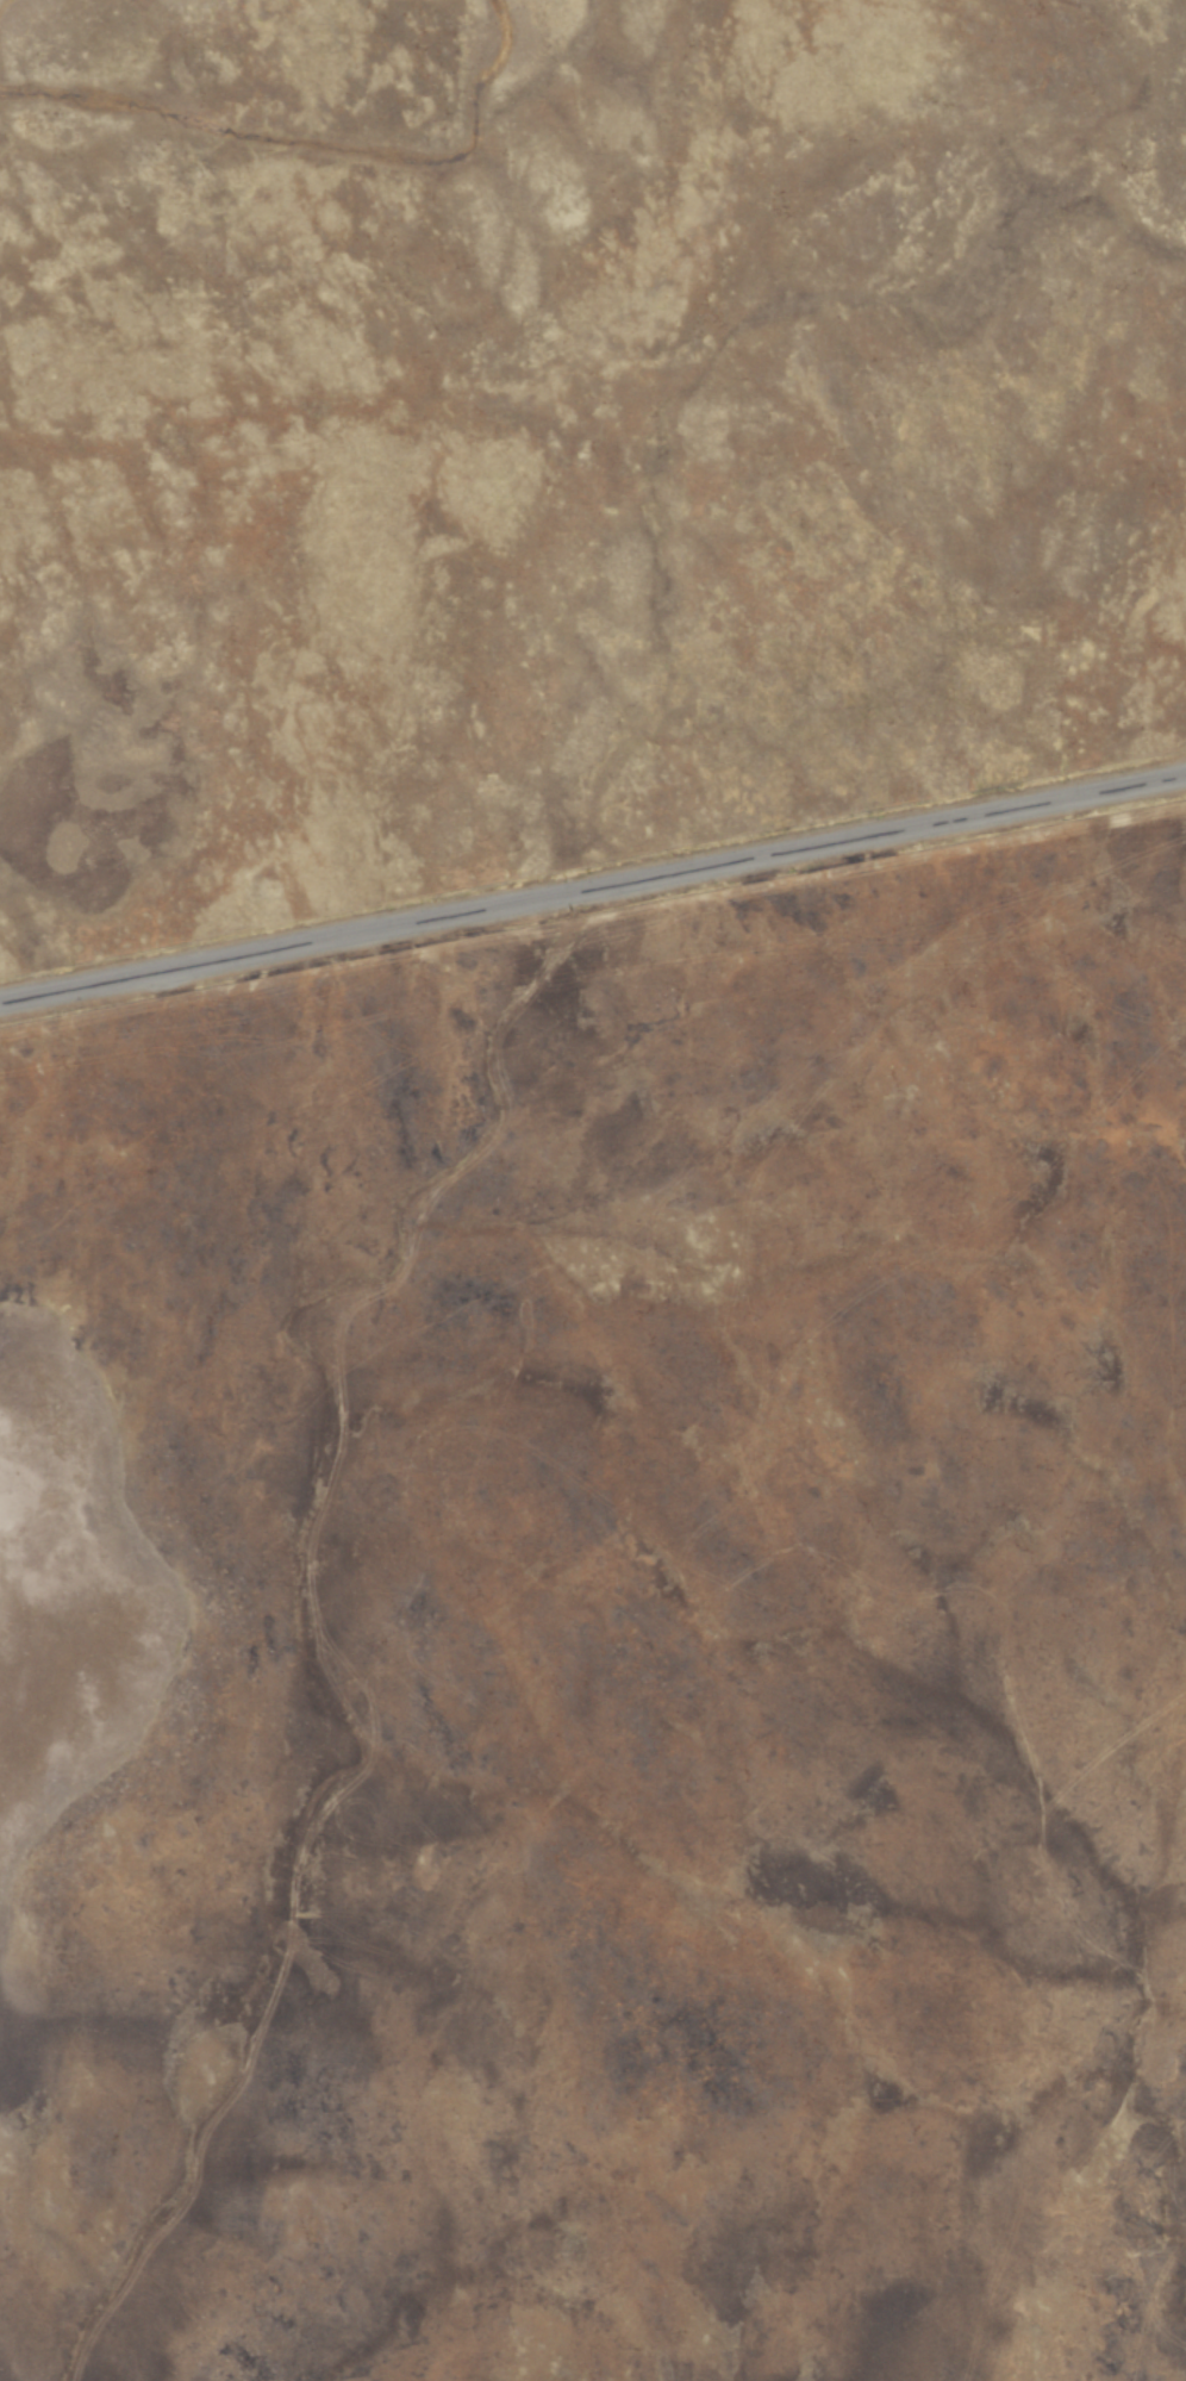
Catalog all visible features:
road: (592, 886)

